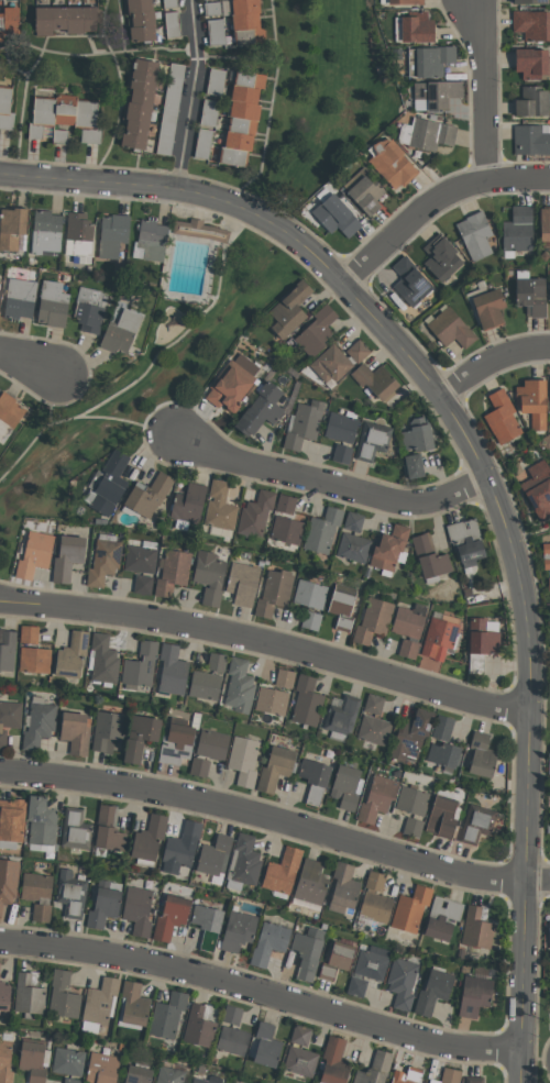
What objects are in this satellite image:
building: (406, 1)
building: (533, 1)
building: (170, 3)
building: (212, 8)
building: (68, 19)
building: (142, 19)
building: (249, 20)
building: (11, 22)
building: (174, 24)
building: (532, 24)
building: (421, 26)
building: (217, 31)
building: (431, 60)
building: (533, 63)
building: (217, 81)
road: (481, 86)
road: (190, 92)
building: (440, 92)
building: (533, 101)
building: (141, 103)
building: (5, 107)
building: (170, 109)
building: (210, 112)
building: (67, 115)
building: (244, 118)
building: (427, 133)
building: (62, 136)
building: (532, 139)
building: (205, 143)
building: (393, 163)
building: (367, 190)
road: (436, 201)
building: (337, 212)
building: (15, 226)
building: (547, 228)
building: (201, 230)
building: (519, 230)
building: (47, 232)
building: (79, 233)
building: (113, 234)
building: (476, 234)
building: (153, 239)
building: (443, 256)
park: (220, 258)
building: (413, 280)
building: (549, 291)
building: (0, 294)
building: (533, 296)
building: (21, 298)
building: (54, 303)
building: (492, 308)
building: (89, 309)
building: (291, 309)
building: (452, 329)
building: (318, 331)
building: (122, 332)
building: (359, 351)
road: (492, 361)
road: (29, 363)
building: (332, 364)
road: (152, 367)
building: (377, 380)
building: (234, 383)
road: (54, 401)
building: (536, 401)
building: (264, 409)
building: (9, 415)
building: (503, 418)
road: (127, 421)
building: (305, 424)
building: (343, 427)
building: (420, 435)
building: (373, 440)
building: (343, 453)
building: (418, 466)
road: (483, 476)
building: (109, 484)
road: (330, 484)
building: (539, 488)
building: (148, 496)
building: (190, 504)
building: (287, 504)
building: (221, 510)
building: (256, 513)
building: (354, 521)
building: (287, 529)
building: (323, 530)
building: (468, 541)
building: (354, 548)
building: (392, 550)
building: (35, 553)
building: (142, 556)
building: (547, 556)
building: (69, 557)
building: (431, 557)
building: (105, 560)
building: (174, 572)
building: (211, 576)
building: (549, 582)
building: (144, 584)
building: (244, 584)
building: (275, 593)
building: (310, 594)
building: (343, 605)
building: (312, 620)
building: (374, 620)
building: (411, 620)
building: (30, 633)
building: (441, 636)
building: (483, 642)
road: (265, 647)
building: (409, 648)
building: (8, 649)
building: (73, 655)
building: (35, 660)
building: (105, 660)
building: (218, 661)
building: (142, 665)
building: (174, 670)
building: (286, 677)
building: (241, 685)
building: (207, 686)
building: (273, 700)
building: (308, 700)
building: (375, 704)
building: (343, 717)
building: (9, 719)
building: (40, 725)
building: (375, 730)
building: (78, 731)
building: (109, 731)
building: (142, 736)
building: (415, 736)
building: (178, 742)
building: (444, 743)
building: (215, 744)
building: (484, 755)
building: (245, 760)
building: (201, 766)
building: (278, 767)
building: (317, 778)
building: (349, 786)
building: (380, 797)
building: (415, 808)
building: (444, 816)
road: (275, 820)
building: (12, 822)
building: (479, 822)
building: (43, 824)
building: (78, 829)
building: (110, 831)
building: (151, 840)
building: (183, 848)
building: (217, 858)
building: (246, 861)
building: (284, 871)
building: (9, 882)
building: (312, 885)
building: (345, 888)
building: (40, 894)
building: (73, 894)
building: (377, 899)
building: (107, 903)
building: (413, 908)
building: (140, 909)
building: (173, 917)
building: (444, 917)
building: (209, 925)
building: (480, 927)
building: (240, 930)
building: (549, 932)
building: (271, 943)
building: (309, 952)
building: (340, 960)
building: (373, 965)
building: (404, 982)
building: (359, 986)
building: (436, 991)
building: (549, 991)
road: (261, 992)
building: (31, 993)
building: (4, 994)
building: (476, 995)
building: (65, 996)
building: (101, 1004)
building: (135, 1006)
building: (169, 1015)
building: (201, 1025)
building: (234, 1032)
building: (302, 1035)
building: (268, 1045)
building: (36, 1060)
building: (5, 1061)
building: (302, 1061)
building: (337, 1061)
building: (70, 1062)
building: (105, 1068)
building: (377, 1069)
building: (140, 1074)
building: (172, 1075)
building: (409, 1075)
building: (450, 1075)
building: (74, 1080)
building: (216, 1080)
building: (475, 1080)

